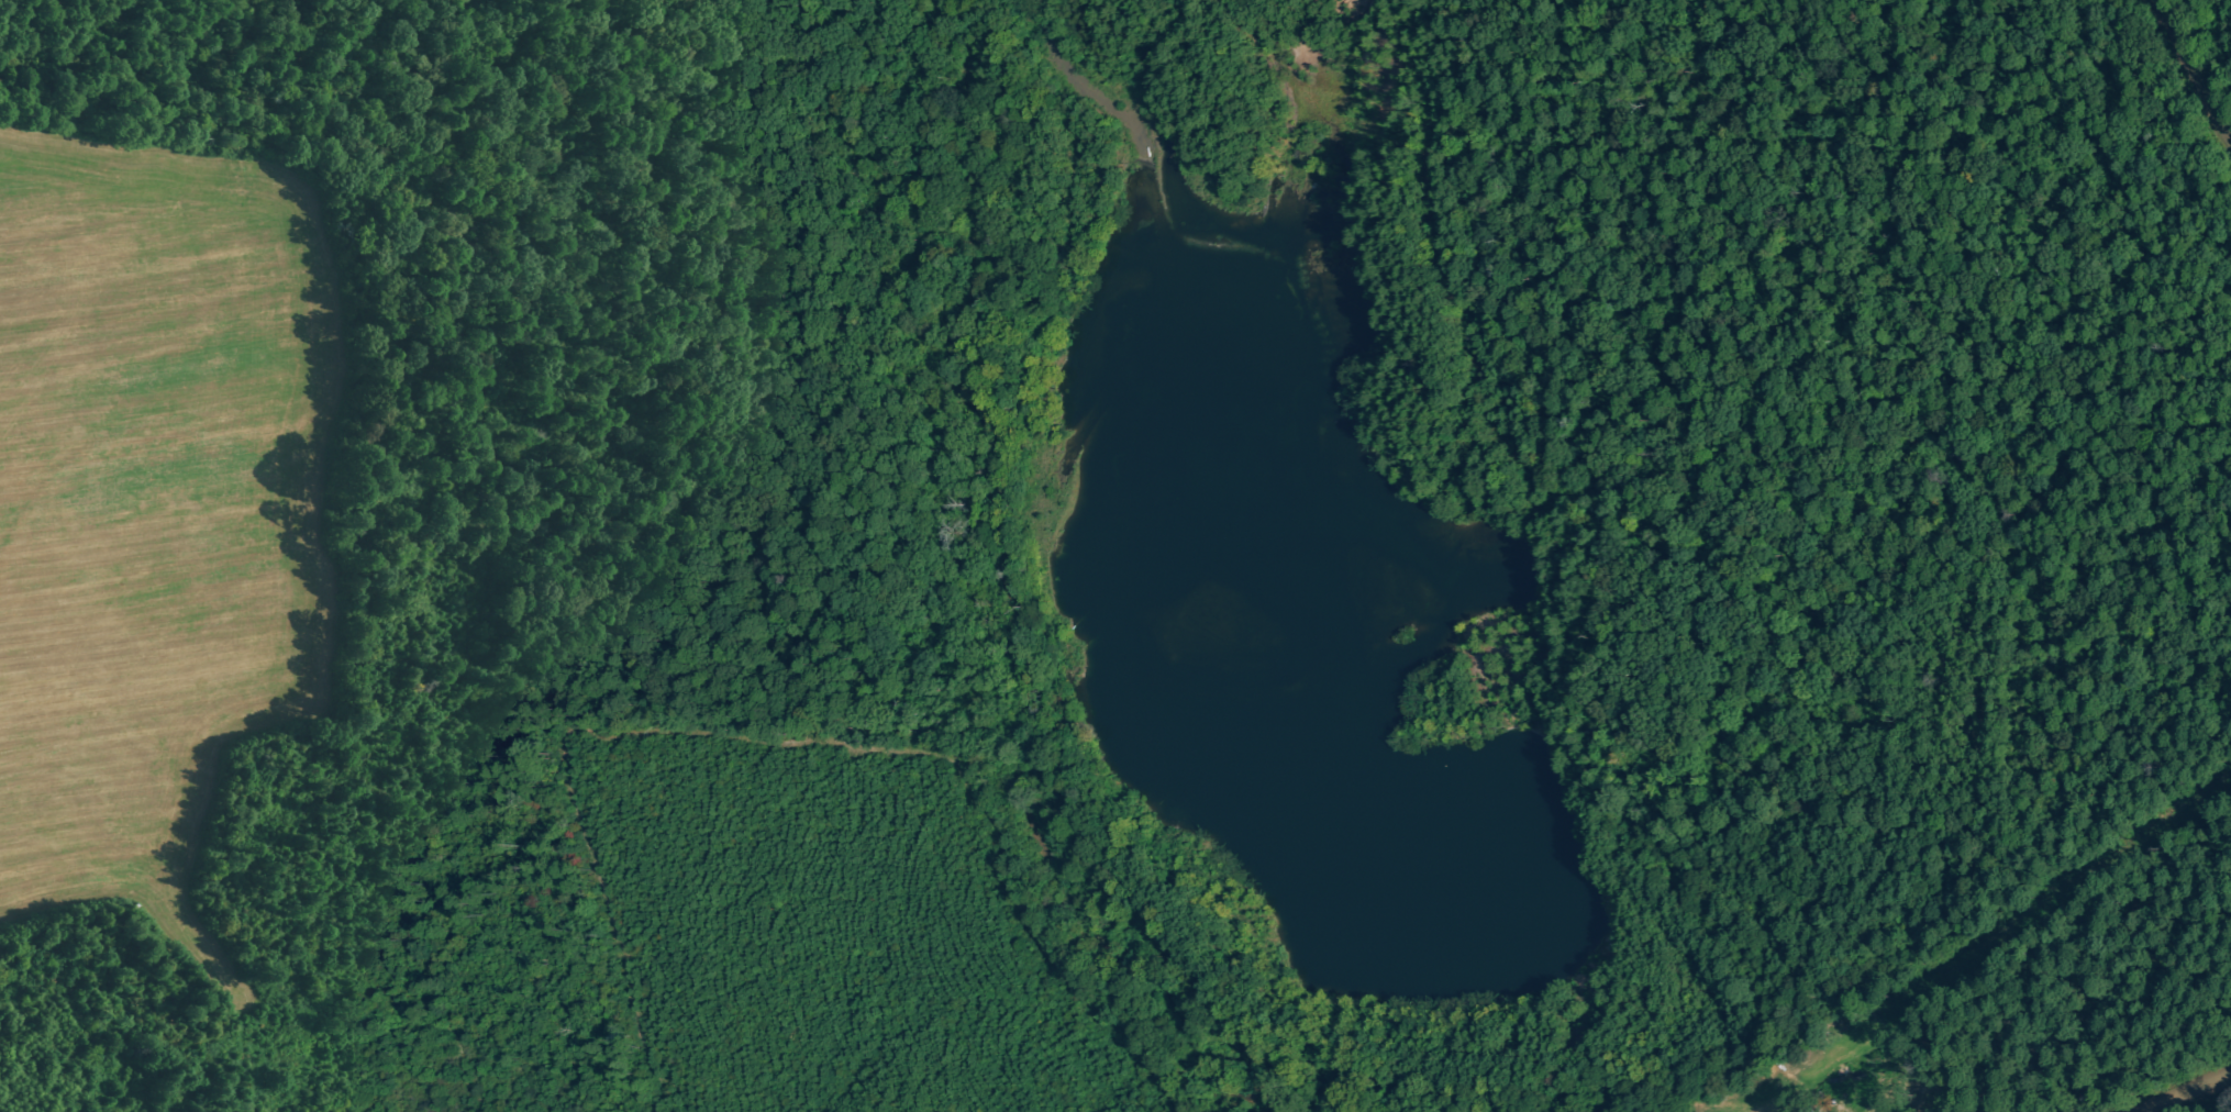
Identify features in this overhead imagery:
road: (2190, 71)
road: (2219, 1107)

